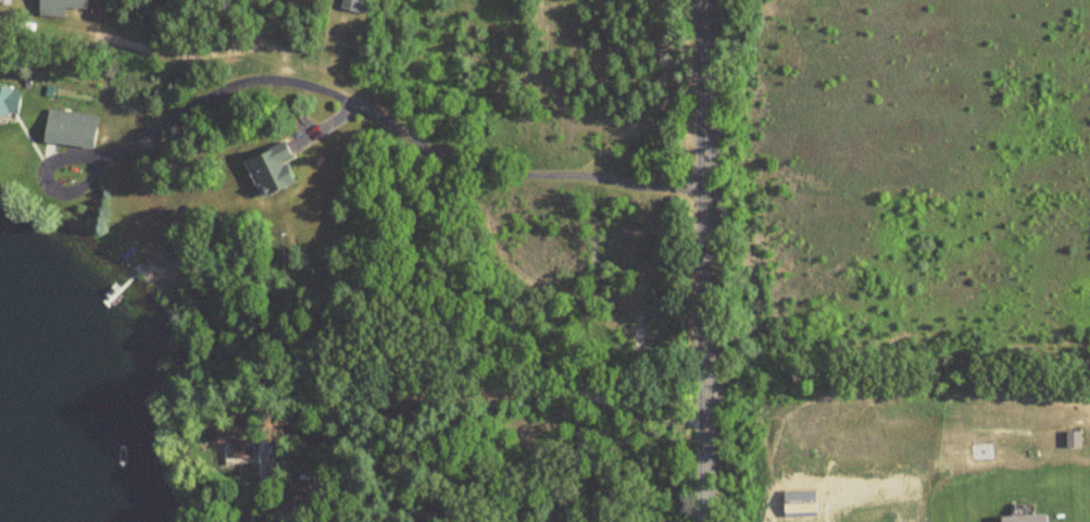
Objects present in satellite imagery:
building: (353, 5)
building: (55, 7)
building: (7, 102)
road: (369, 112)
building: (67, 128)
building: (268, 169)
road: (705, 260)
road: (442, 391)
road: (702, 420)
building: (239, 440)
building: (295, 506)

